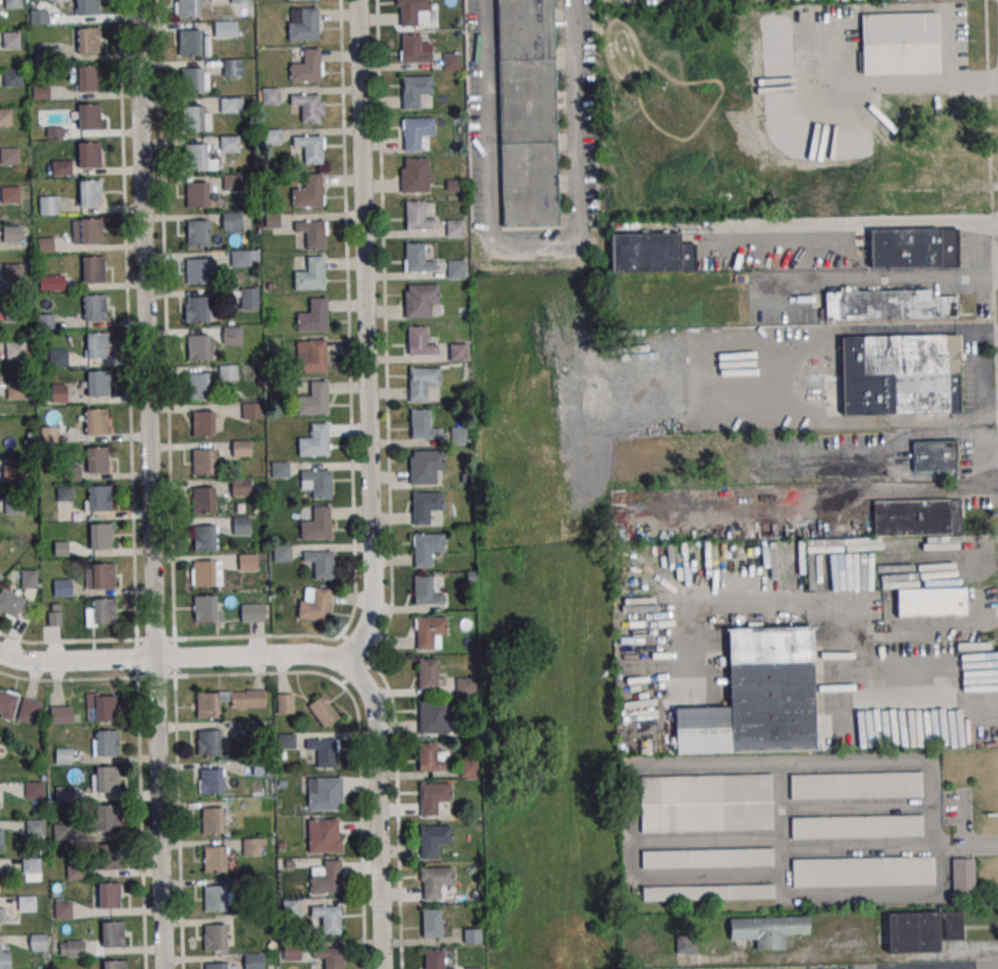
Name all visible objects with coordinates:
building: (827, 0)
building: (239, 1)
building: (87, 7)
building: (187, 8)
building: (411, 10)
building: (38, 16)
building: (304, 26)
building: (225, 29)
building: (87, 40)
building: (189, 42)
building: (899, 44)
building: (415, 48)
building: (451, 62)
building: (306, 67)
building: (231, 68)
road: (947, 72)
building: (11, 77)
building: (87, 78)
building: (191, 80)
building: (414, 90)
building: (270, 96)
building: (228, 104)
building: (307, 107)
building: (527, 113)
building: (88, 116)
building: (5, 117)
building: (192, 118)
building: (416, 131)
building: (270, 137)
building: (229, 144)
building: (310, 148)
building: (88, 154)
building: (9, 156)
building: (195, 157)
building: (61, 167)
building: (416, 175)
building: (231, 182)
building: (308, 192)
building: (89, 193)
building: (9, 194)
building: (196, 195)
building: (47, 205)
building: (417, 217)
building: (270, 219)
building: (231, 221)
road: (866, 224)
building: (455, 228)
building: (90, 231)
building: (11, 233)
building: (197, 233)
building: (312, 234)
road: (534, 239)
building: (913, 248)
building: (654, 252)
building: (240, 258)
building: (417, 259)
building: (93, 269)
building: (455, 269)
building: (196, 270)
building: (12, 272)
building: (310, 274)
road: (891, 277)
building: (51, 282)
building: (249, 298)
building: (420, 300)
building: (888, 305)
building: (93, 307)
building: (198, 309)
building: (313, 316)
road: (127, 319)
road: (165, 319)
building: (45, 320)
road: (385, 330)
building: (232, 335)
road: (367, 335)
road: (348, 337)
building: (419, 342)
building: (272, 343)
building: (97, 345)
building: (197, 347)
building: (15, 350)
building: (458, 351)
building: (57, 357)
building: (313, 358)
building: (227, 371)
building: (900, 375)
building: (421, 381)
building: (97, 383)
building: (198, 386)
road: (789, 388)
building: (15, 390)
building: (58, 390)
building: (313, 399)
building: (251, 410)
building: (96, 421)
building: (202, 423)
building: (422, 425)
building: (459, 434)
building: (314, 441)
building: (241, 448)
road: (902, 455)
building: (934, 456)
building: (96, 459)
building: (203, 461)
building: (425, 466)
building: (280, 469)
building: (72, 473)
building: (316, 483)
road: (149, 484)
building: (240, 486)
building: (64, 493)
building: (99, 498)
building: (202, 499)
building: (12, 507)
building: (425, 507)
building: (916, 517)
building: (316, 524)
building: (241, 526)
building: (100, 536)
building: (204, 537)
building: (426, 548)
building: (282, 553)
building: (247, 562)
building: (320, 563)
building: (204, 573)
building: (100, 576)
building: (28, 578)
building: (62, 587)
building: (425, 591)
building: (10, 602)
building: (932, 602)
building: (314, 604)
building: (205, 608)
building: (102, 611)
building: (252, 613)
building: (54, 614)
road: (902, 630)
building: (430, 632)
road: (155, 638)
road: (172, 659)
road: (372, 660)
building: (427, 673)
building: (467, 685)
road: (928, 687)
building: (757, 698)
building: (285, 703)
building: (7, 704)
building: (207, 705)
building: (106, 708)
building: (29, 710)
building: (322, 711)
building: (60, 714)
building: (433, 717)
building: (249, 729)
building: (207, 741)
building: (286, 741)
building: (106, 742)
building: (327, 753)
building: (433, 758)
building: (469, 767)
building: (107, 779)
building: (211, 781)
building: (855, 785)
building: (34, 790)
building: (64, 793)
building: (324, 793)
building: (433, 798)
building: (706, 803)
road: (360, 804)
road: (378, 811)
road: (397, 813)
building: (107, 818)
building: (212, 820)
building: (856, 826)
building: (35, 827)
building: (61, 831)
building: (324, 835)
building: (432, 841)
building: (251, 846)
road: (891, 847)
building: (106, 856)
building: (707, 858)
building: (214, 859)
building: (31, 869)
building: (862, 871)
building: (962, 875)
building: (326, 877)
building: (435, 883)
building: (708, 892)
building: (109, 895)
building: (215, 898)
building: (26, 903)
building: (62, 908)
building: (290, 908)
building: (327, 919)
building: (431, 923)
building: (767, 930)
building: (920, 930)
building: (111, 934)
building: (472, 935)
building: (214, 938)
building: (38, 941)
building: (685, 943)
building: (74, 949)
building: (329, 958)
building: (4, 960)
building: (433, 960)
building: (114, 964)
building: (215, 965)
road: (979, 968)

